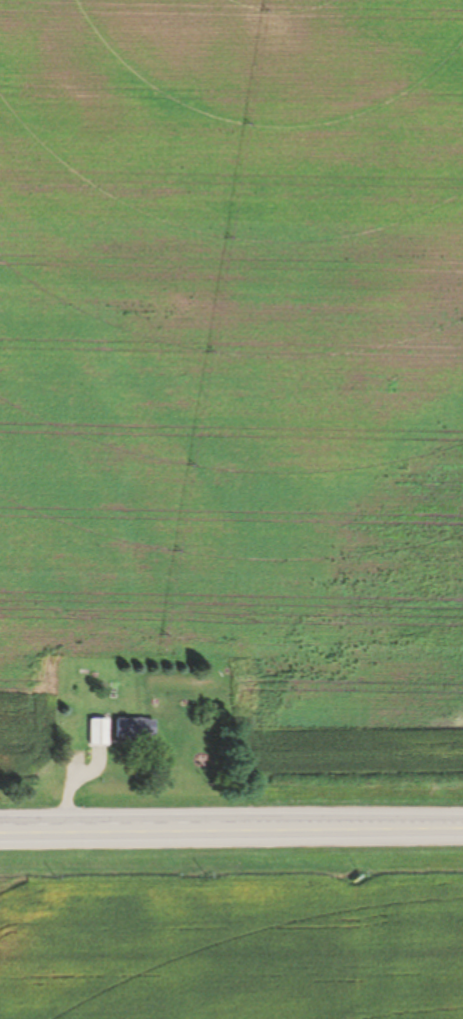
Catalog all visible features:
building: (134, 729)
building: (99, 732)
road: (231, 830)
crop: (233, 946)

